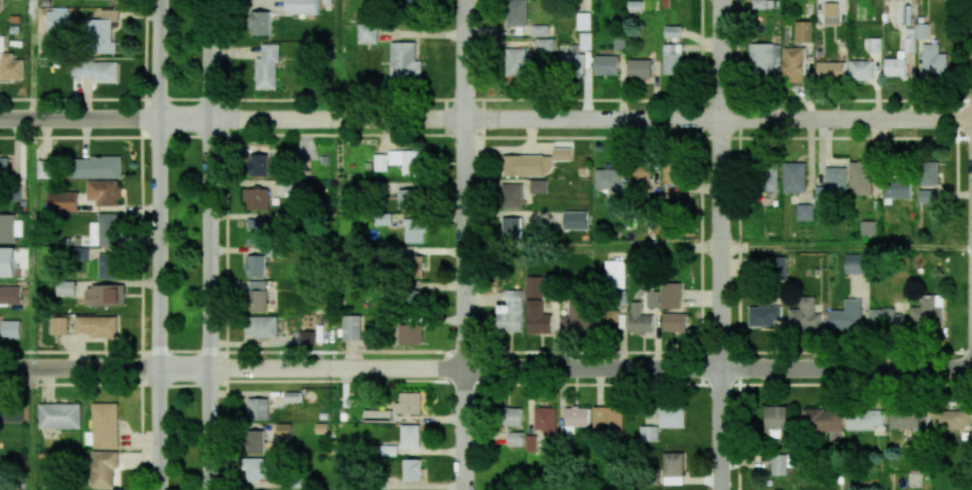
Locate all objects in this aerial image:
building: (758, 4)
building: (0, 5)
building: (301, 7)
building: (831, 12)
building: (516, 13)
building: (57, 18)
building: (583, 21)
building: (260, 22)
building: (672, 31)
building: (803, 31)
building: (101, 32)
building: (367, 34)
building: (2, 44)
building: (543, 44)
building: (874, 45)
building: (576, 54)
building: (764, 58)
building: (673, 59)
building: (933, 59)
road: (33, 60)
building: (517, 62)
building: (405, 63)
building: (794, 63)
building: (606, 65)
building: (895, 66)
building: (11, 67)
building: (268, 67)
building: (639, 69)
building: (831, 69)
building: (95, 70)
building: (861, 70)
road: (79, 120)
road: (565, 120)
building: (562, 154)
building: (407, 161)
building: (380, 162)
building: (258, 164)
building: (527, 165)
building: (4, 167)
building: (99, 167)
building: (45, 168)
building: (672, 173)
building: (928, 173)
building: (640, 176)
building: (860, 177)
building: (835, 178)
building: (607, 179)
building: (768, 181)
building: (794, 181)
building: (538, 186)
building: (898, 188)
building: (104, 192)
building: (512, 196)
building: (928, 196)
building: (256, 198)
building: (409, 199)
building: (63, 202)
building: (805, 212)
building: (575, 220)
building: (512, 227)
building: (7, 228)
building: (867, 228)
building: (106, 230)
building: (413, 230)
building: (259, 231)
road: (33, 243)
road: (141, 244)
road: (159, 245)
park: (184, 245)
road: (210, 245)
road: (229, 245)
road: (465, 245)
road: (719, 245)
road: (592, 246)
road: (845, 246)
building: (79, 254)
building: (7, 261)
building: (855, 264)
building: (108, 265)
building: (255, 265)
building: (415, 266)
building: (777, 268)
building: (615, 274)
building: (534, 287)
building: (65, 288)
building: (10, 294)
building: (105, 295)
building: (257, 295)
building: (670, 295)
building: (413, 298)
building: (652, 298)
building: (928, 311)
building: (510, 313)
building: (764, 315)
building: (804, 315)
building: (847, 316)
building: (537, 318)
building: (639, 319)
building: (885, 319)
building: (608, 320)
building: (674, 322)
building: (60, 324)
building: (574, 324)
building: (97, 326)
building: (260, 327)
building: (352, 328)
building: (10, 329)
building: (410, 334)
building: (306, 336)
road: (79, 367)
road: (565, 367)
building: (409, 403)
building: (258, 409)
building: (12, 413)
building: (59, 415)
building: (379, 415)
building: (509, 416)
building: (671, 417)
building: (576, 418)
building: (607, 418)
building: (777, 418)
building: (546, 420)
building: (866, 420)
building: (908, 420)
building: (952, 420)
building: (823, 421)
building: (104, 426)
road: (33, 428)
building: (284, 430)
building: (649, 433)
building: (410, 436)
building: (514, 439)
building: (255, 442)
building: (388, 450)
building: (782, 463)
building: (103, 468)
building: (256, 468)
building: (673, 468)
building: (411, 470)

